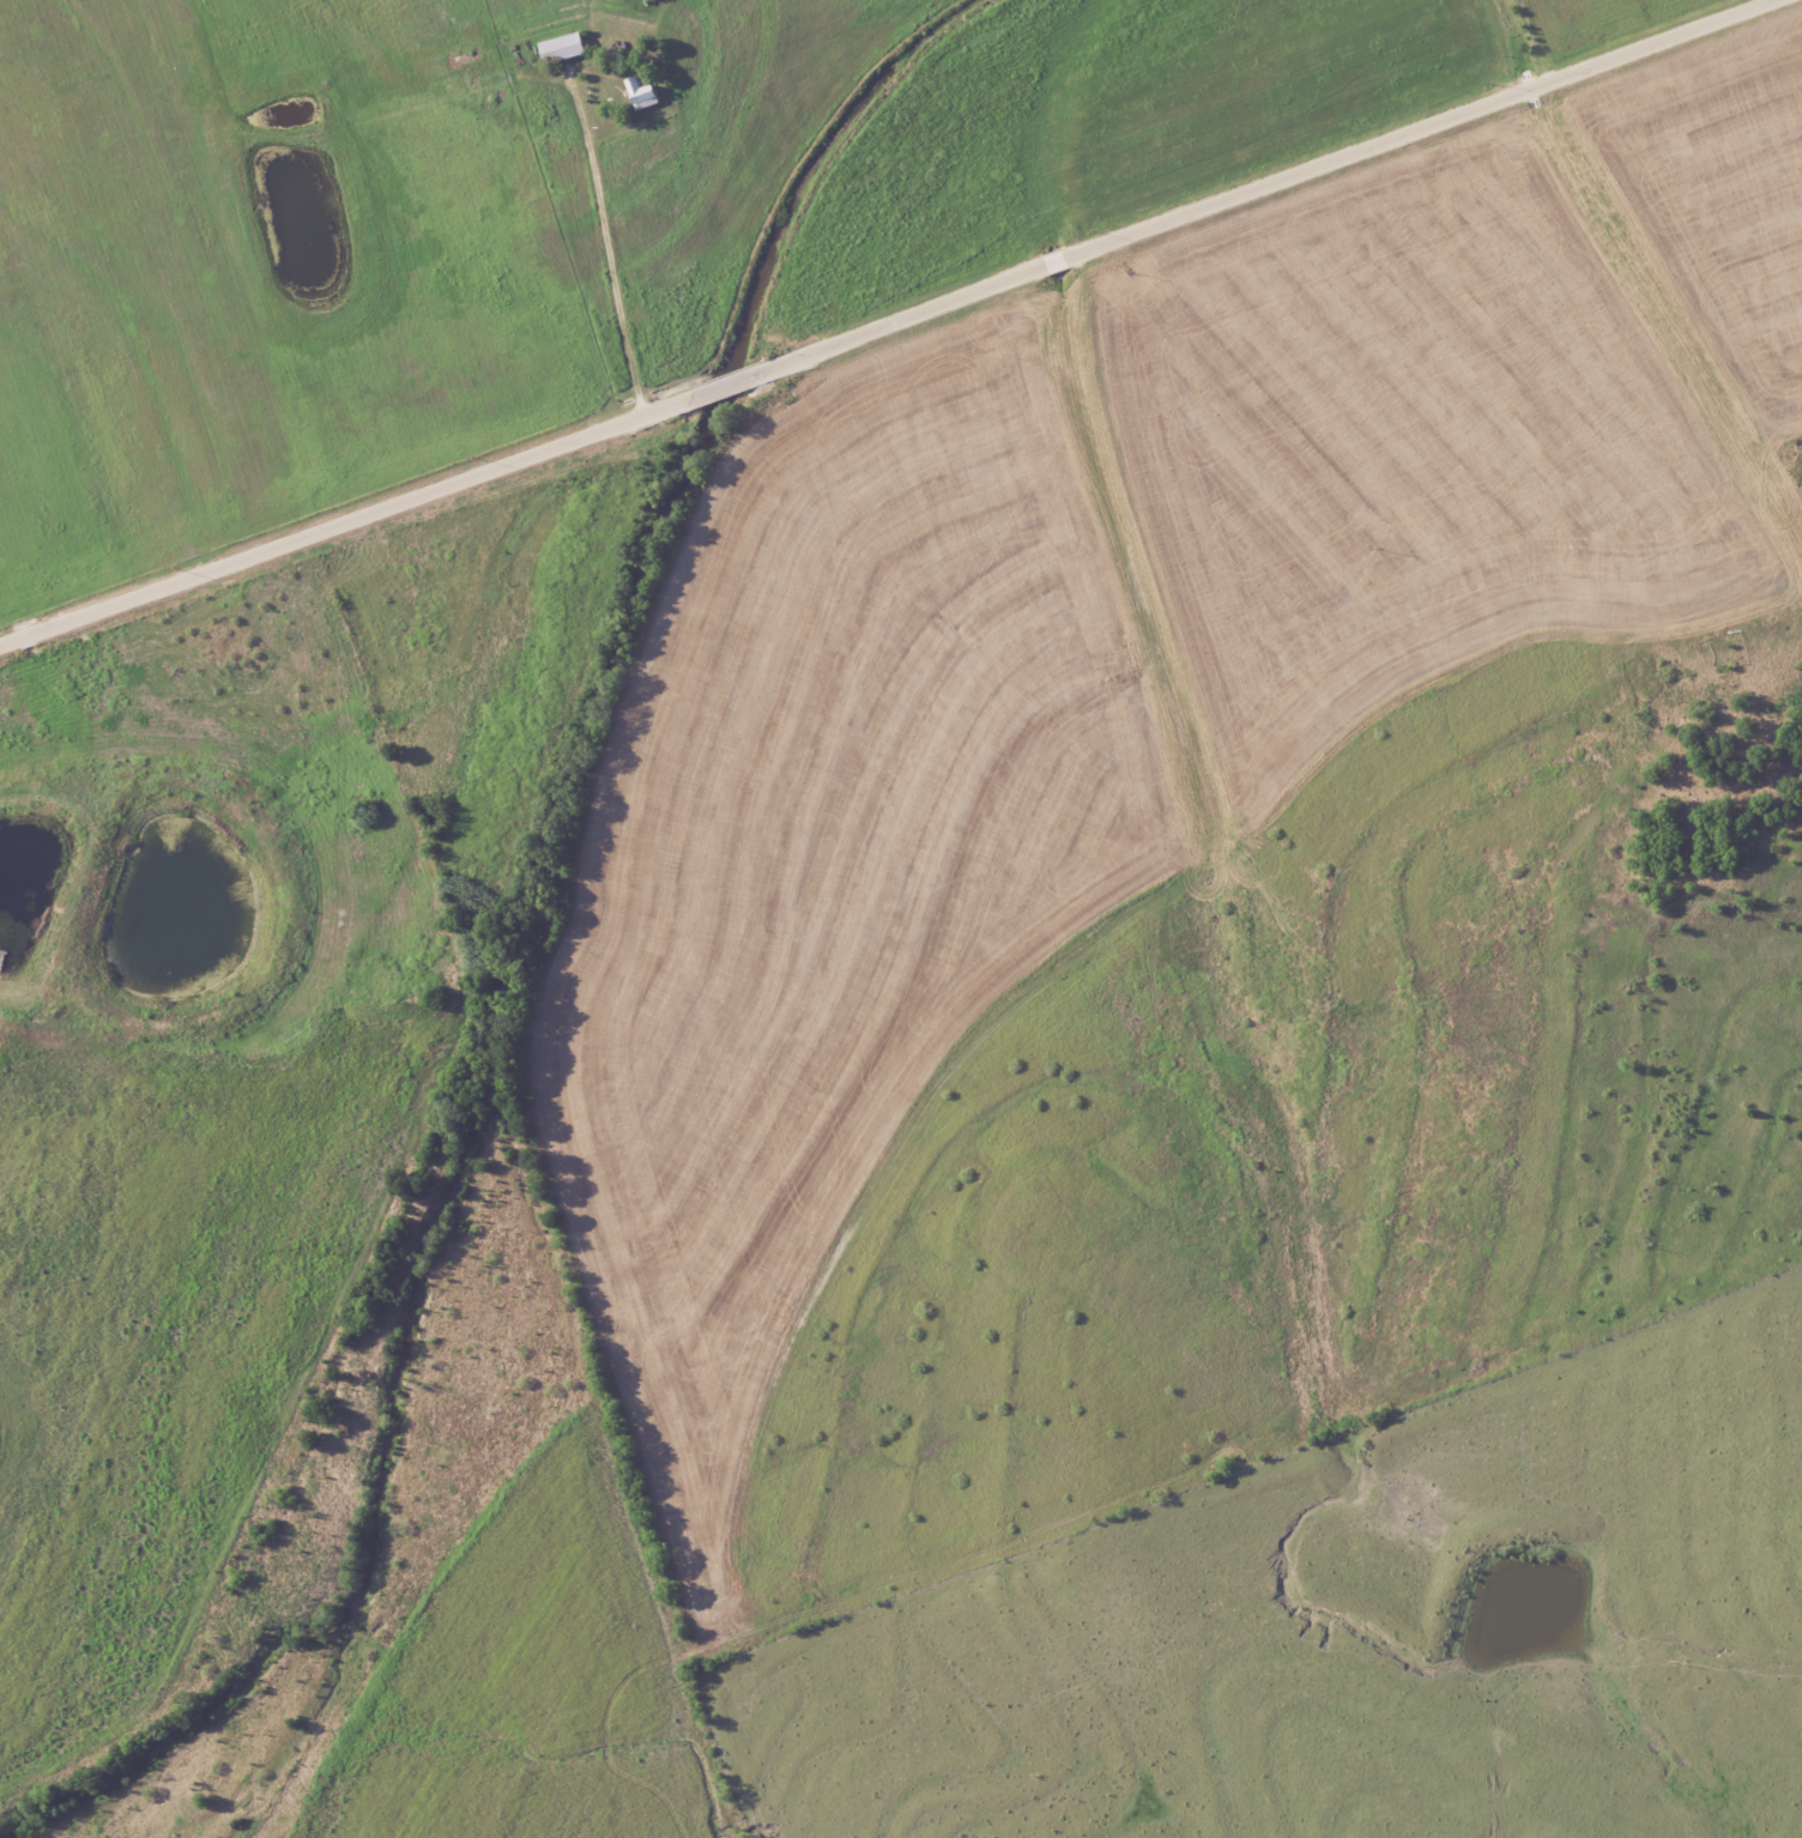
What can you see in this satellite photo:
building: (567, 48)
building: (647, 92)
road: (607, 252)
road: (888, 324)

